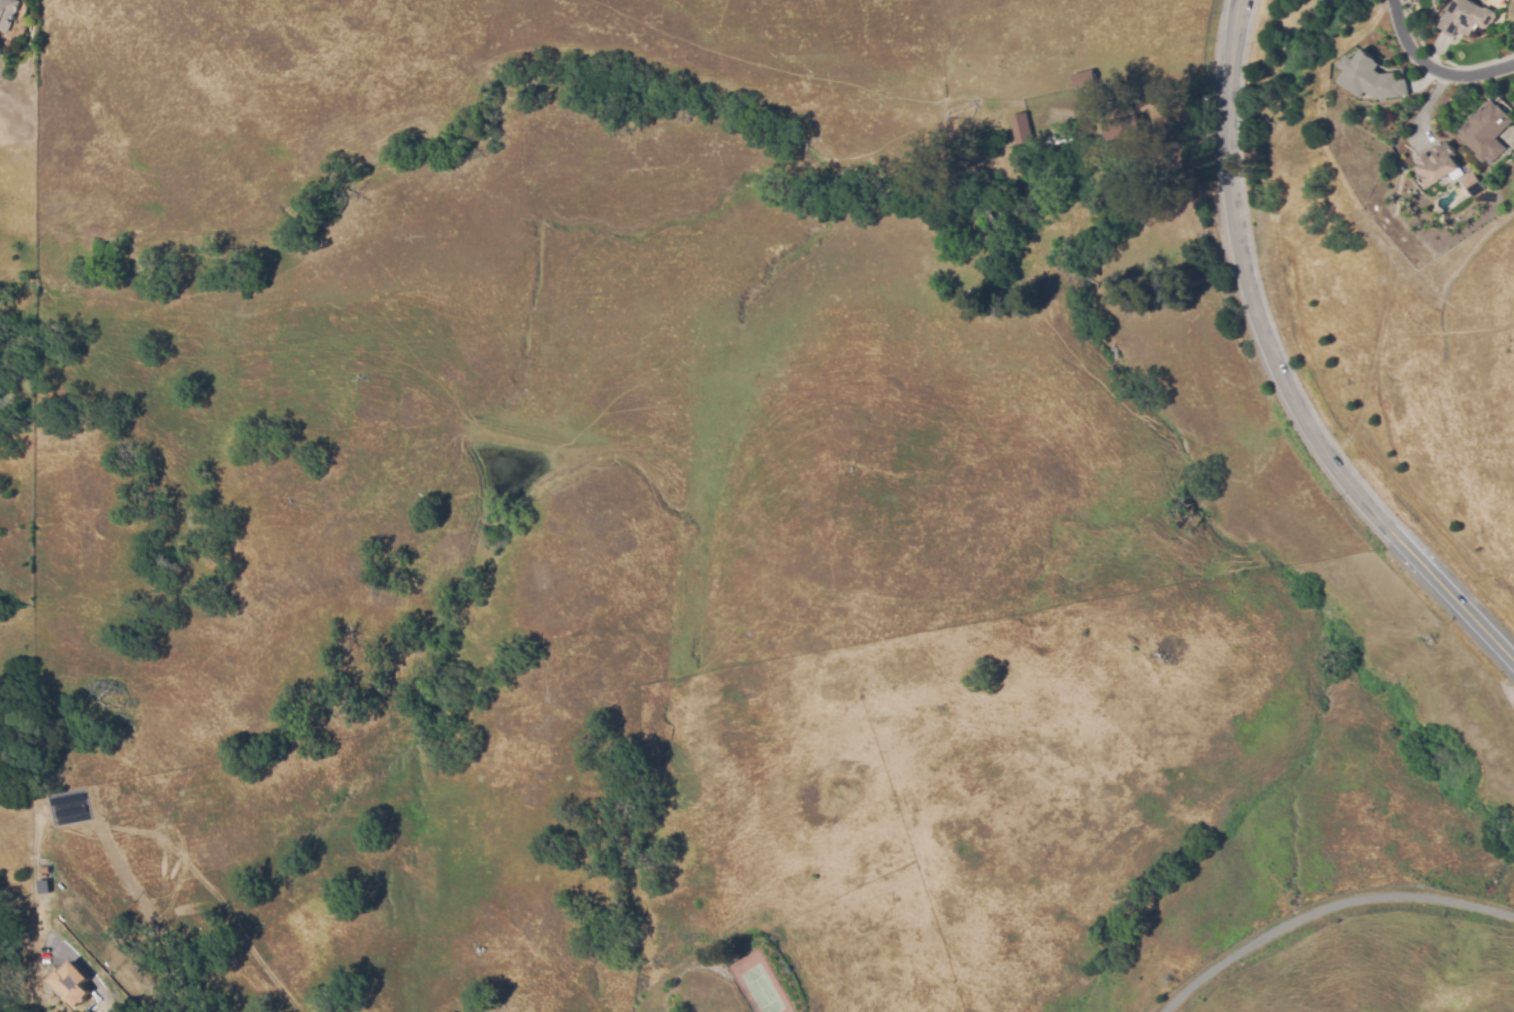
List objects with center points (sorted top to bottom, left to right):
building: (8, 13)
building: (1467, 18)
road: (1432, 69)
building: (1369, 74)
building: (1085, 79)
building: (1126, 128)
building: (1023, 129)
building: (1485, 129)
building: (1091, 130)
road: (1510, 137)
building: (1063, 147)
building: (1436, 165)
building: (1470, 184)
building: (979, 224)
park: (19, 333)
road: (1275, 370)
building: (848, 471)
road: (1327, 910)
building: (74, 984)
road: (107, 1007)

